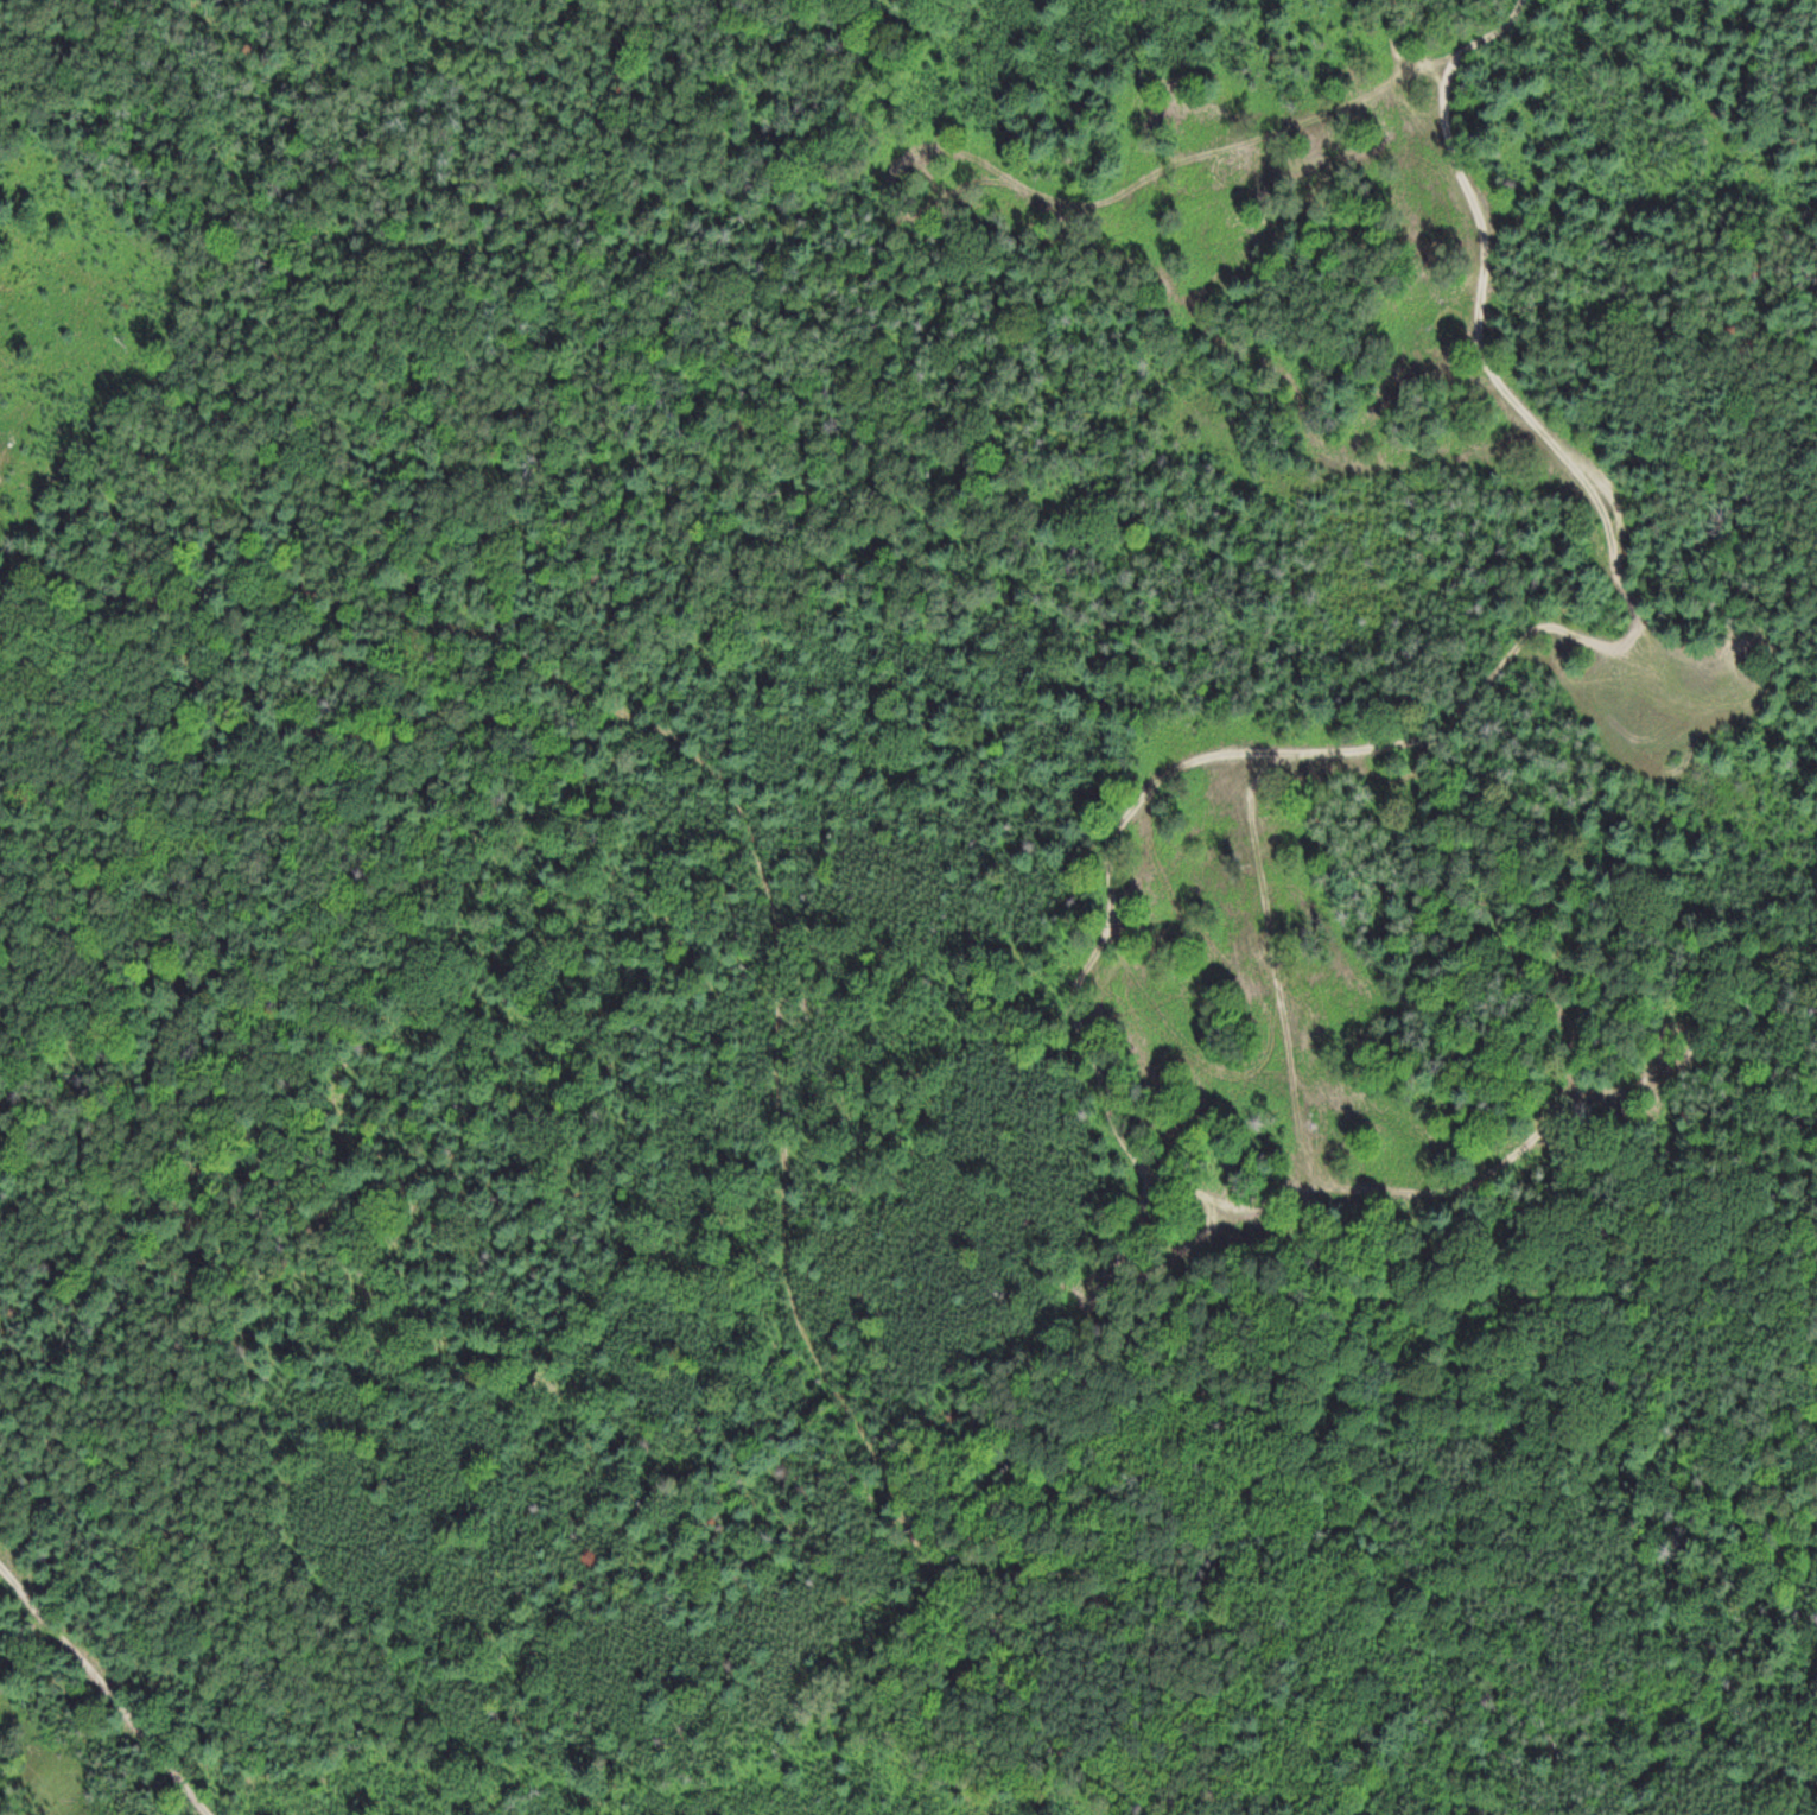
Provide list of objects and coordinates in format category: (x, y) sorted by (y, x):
road: (104, 1690)

